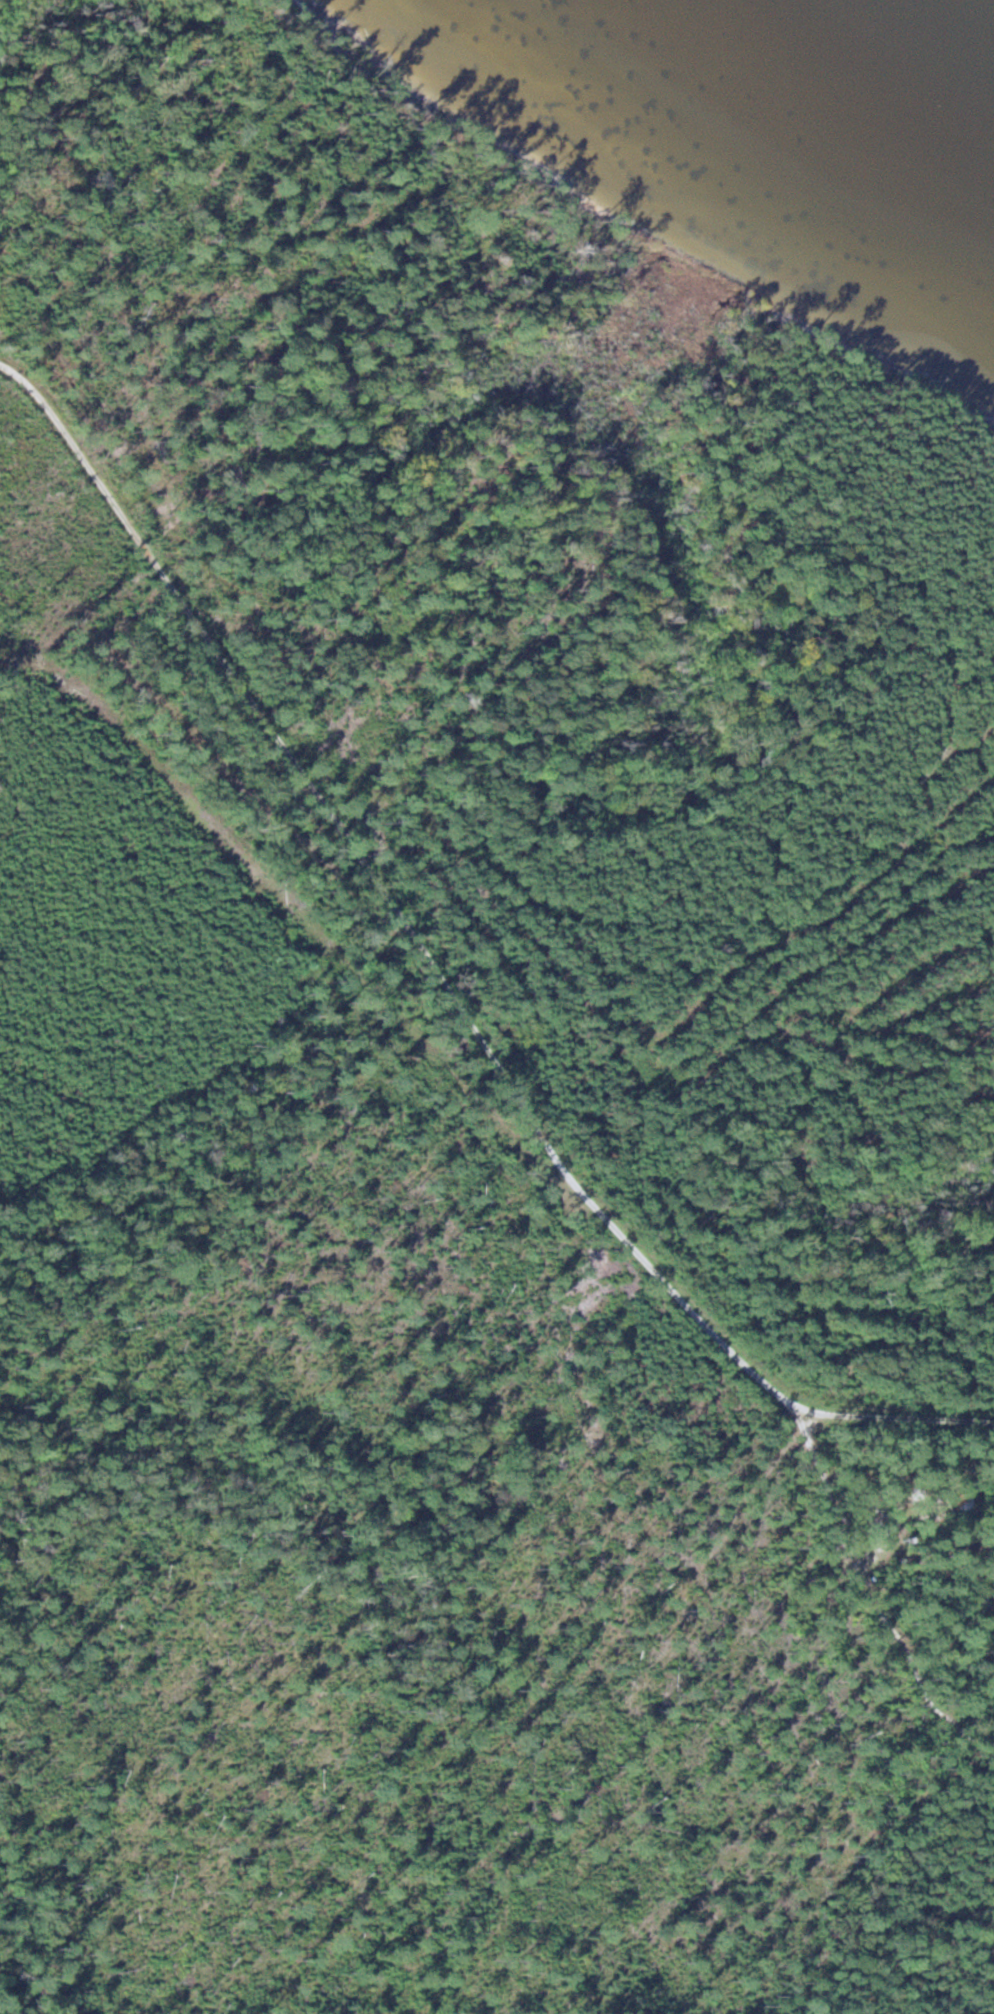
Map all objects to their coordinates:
road: (431, 1015)

